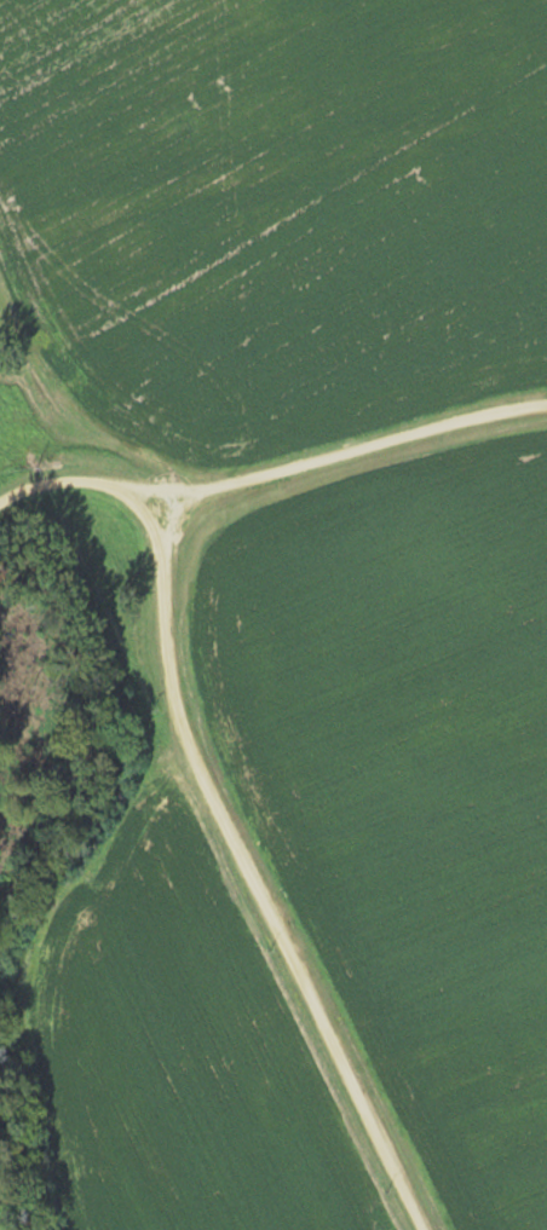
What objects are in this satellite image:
road: (272, 470)
road: (260, 873)

